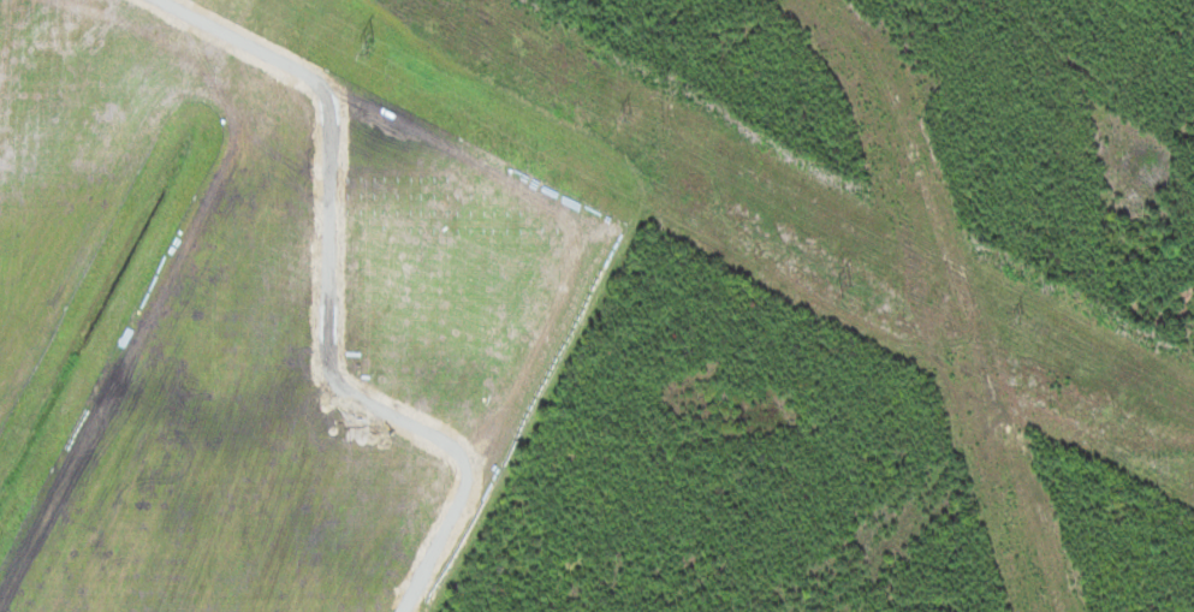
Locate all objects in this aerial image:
power tower: (370, 43)
power tower: (625, 108)
power tower: (848, 287)
power tower: (1023, 319)

